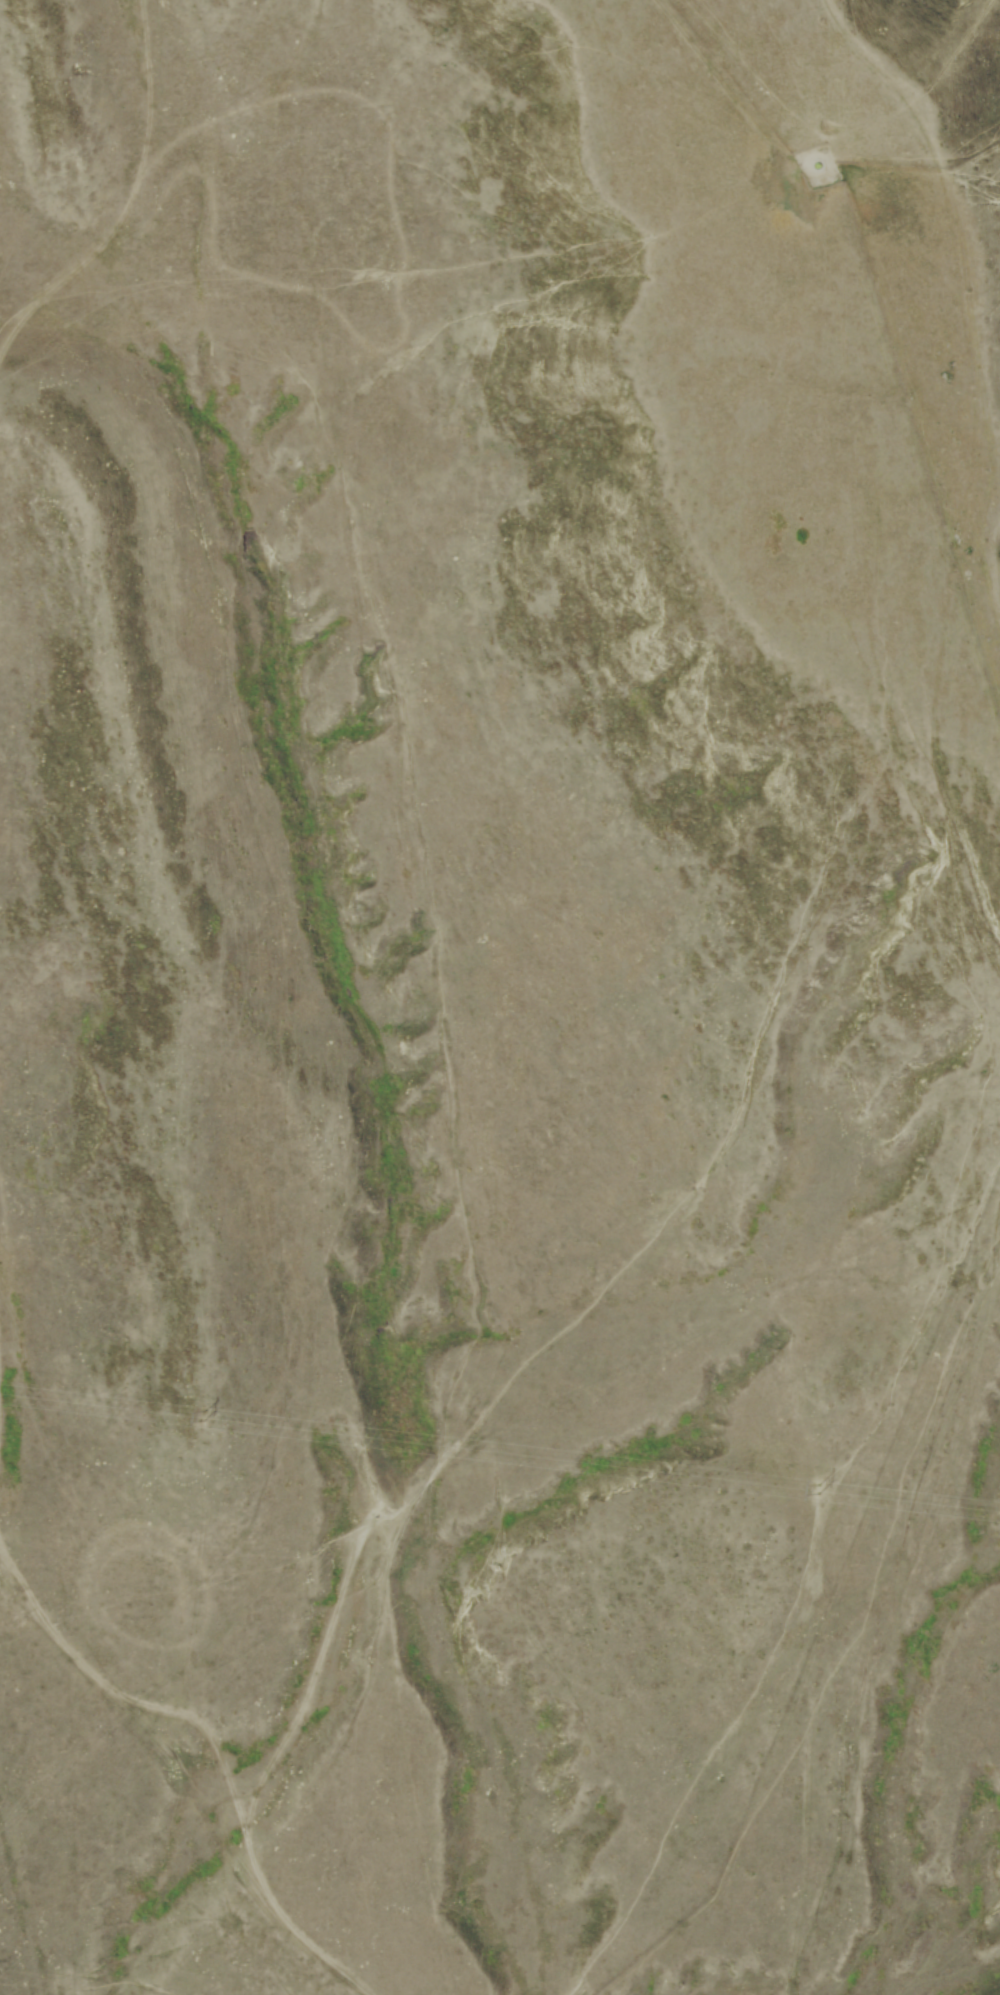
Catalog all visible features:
power tower: (203, 1417)
power tower: (819, 1490)

